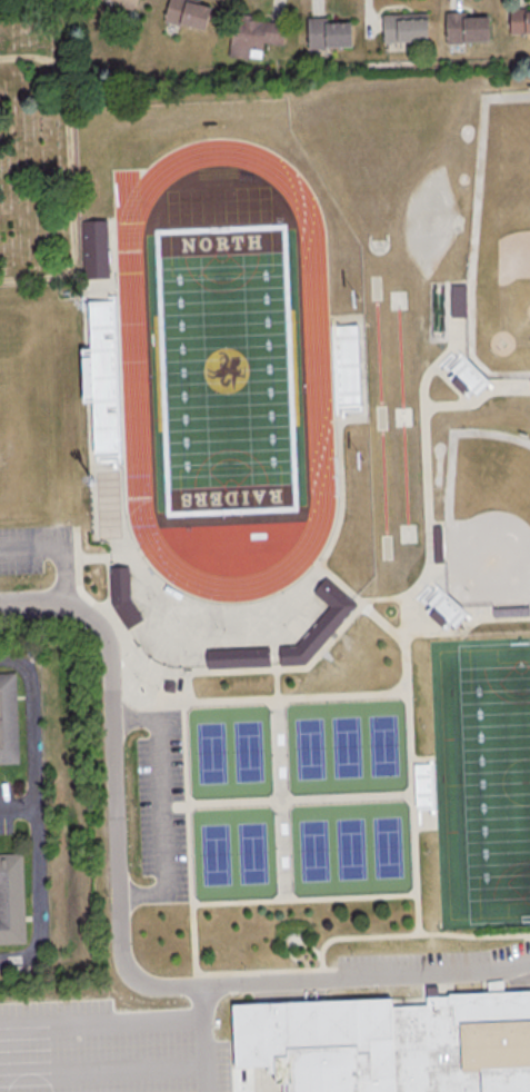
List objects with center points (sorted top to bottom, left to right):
building: (126, 2)
building: (187, 12)
building: (519, 20)
building: (403, 27)
building: (466, 27)
building: (327, 32)
park: (38, 147)
road: (70, 173)
park: (500, 241)
building: (93, 250)
building: (457, 299)
stadium: (344, 367)
park: (226, 369)
park: (226, 370)
park: (226, 370)
building: (466, 375)
building: (80, 376)
stadium: (463, 377)
stadium: (101, 378)
road: (460, 406)
road: (428, 495)
park: (488, 517)
parking lot: (37, 550)
road: (60, 550)
road: (96, 557)
road: (107, 585)
building: (122, 597)
stadium: (442, 608)
building: (510, 610)
road: (380, 621)
building: (319, 625)
road: (444, 633)
building: (238, 658)
building: (168, 687)
road: (146, 688)
road: (172, 704)
building: (9, 719)
road: (33, 739)
park: (388, 745)
park: (348, 747)
park: (308, 748)
park: (251, 752)
park: (211, 753)
road: (411, 765)
park: (496, 777)
road: (281, 778)
park: (482, 778)
stadium: (424, 787)
road: (288, 801)
parking lot: (161, 806)
road: (162, 806)
park: (392, 847)
park: (353, 850)
park: (313, 851)
park: (256, 853)
park: (216, 854)
building: (11, 900)
road: (304, 900)
road: (42, 901)
road: (193, 906)
road: (413, 935)
road: (297, 941)
road: (121, 950)
parking lot: (437, 962)
road: (322, 984)
road: (101, 1017)
road: (203, 1039)
building: (388, 1043)
parking lot: (104, 1048)
road: (102, 1065)
road: (272, 1090)

